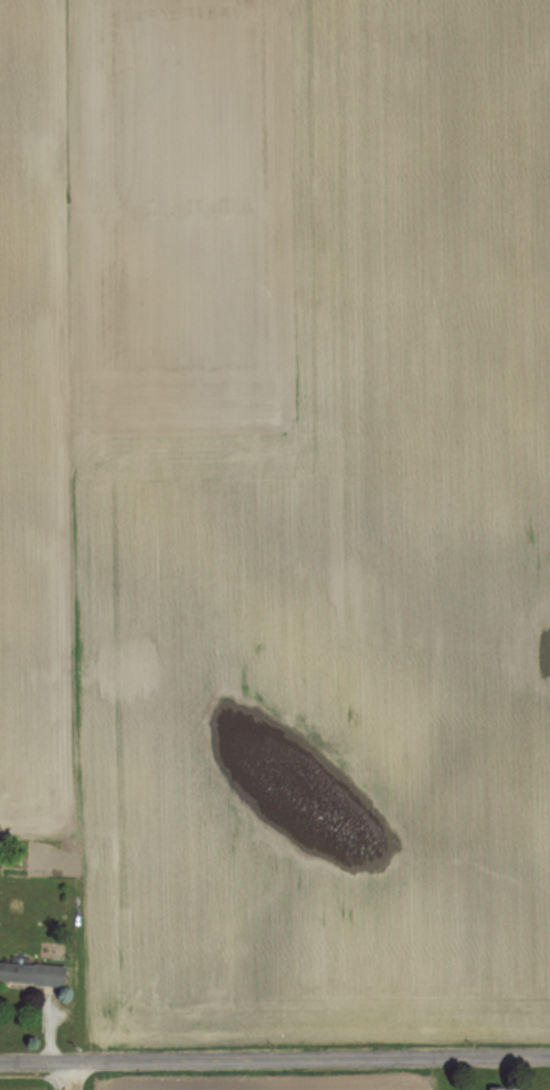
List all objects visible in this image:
building: (33, 974)
road: (274, 1058)
road: (68, 1075)
building: (505, 1089)

